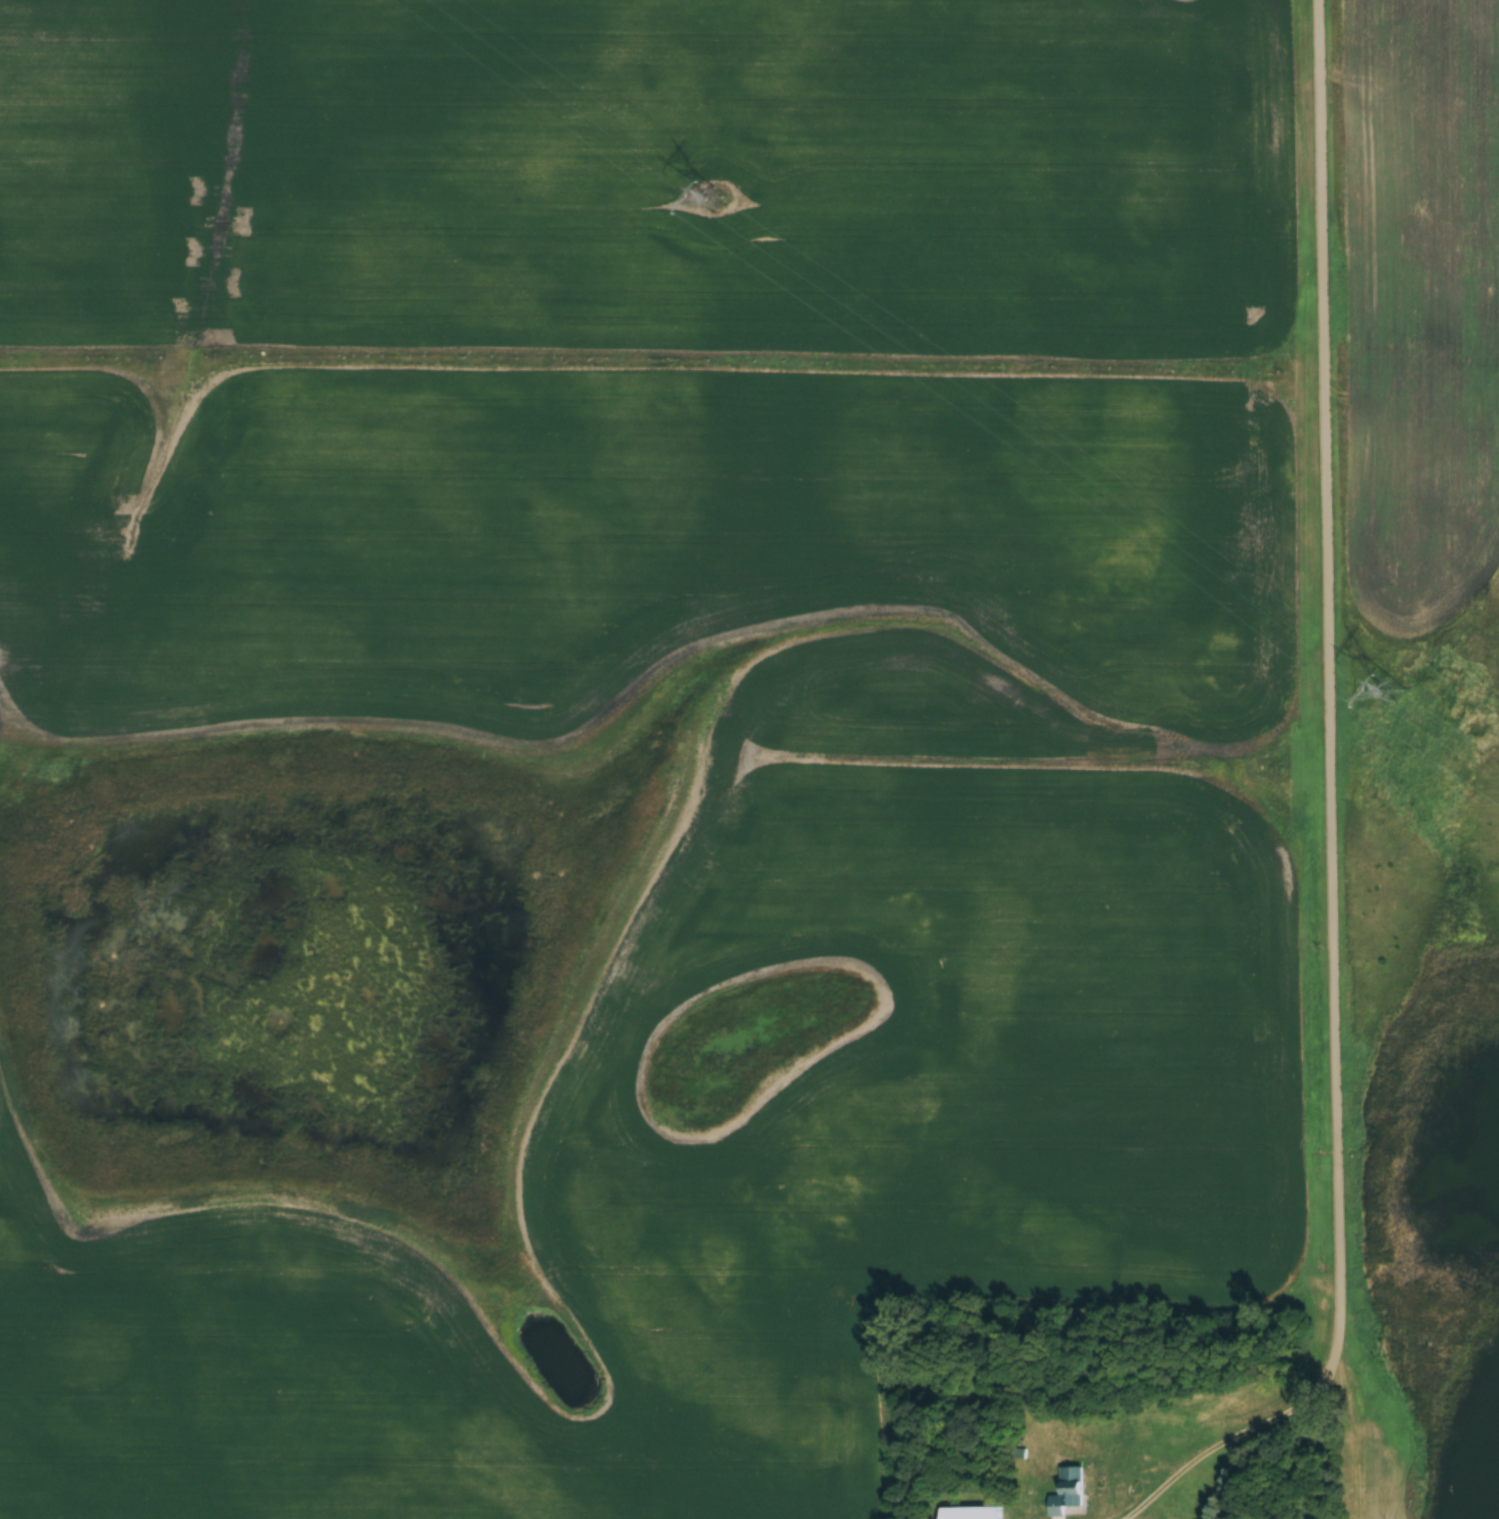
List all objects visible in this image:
building: (965, 89)
power tower: (707, 197)
building: (74, 442)
building: (679, 501)
building: (319, 549)
building: (1205, 584)
road: (1331, 694)
power tower: (1389, 703)
building: (1067, 1492)
building: (970, 1513)

